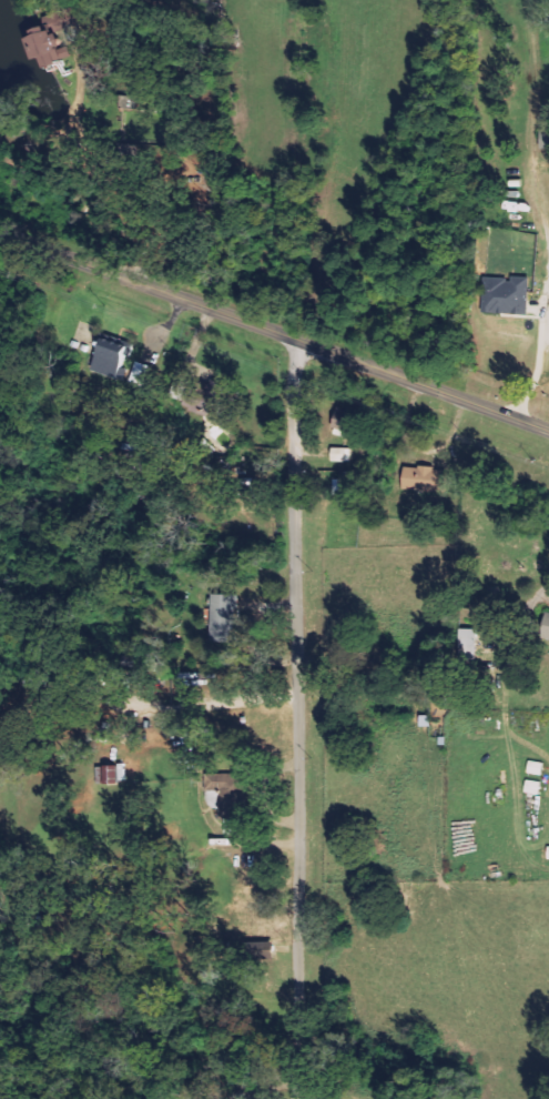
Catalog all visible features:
building: (58, 39)
building: (542, 137)
building: (502, 294)
road: (273, 330)
building: (122, 364)
building: (212, 399)
building: (346, 420)
building: (343, 454)
building: (428, 480)
building: (227, 618)
building: (547, 631)
building: (474, 645)
road: (305, 719)
building: (232, 800)

